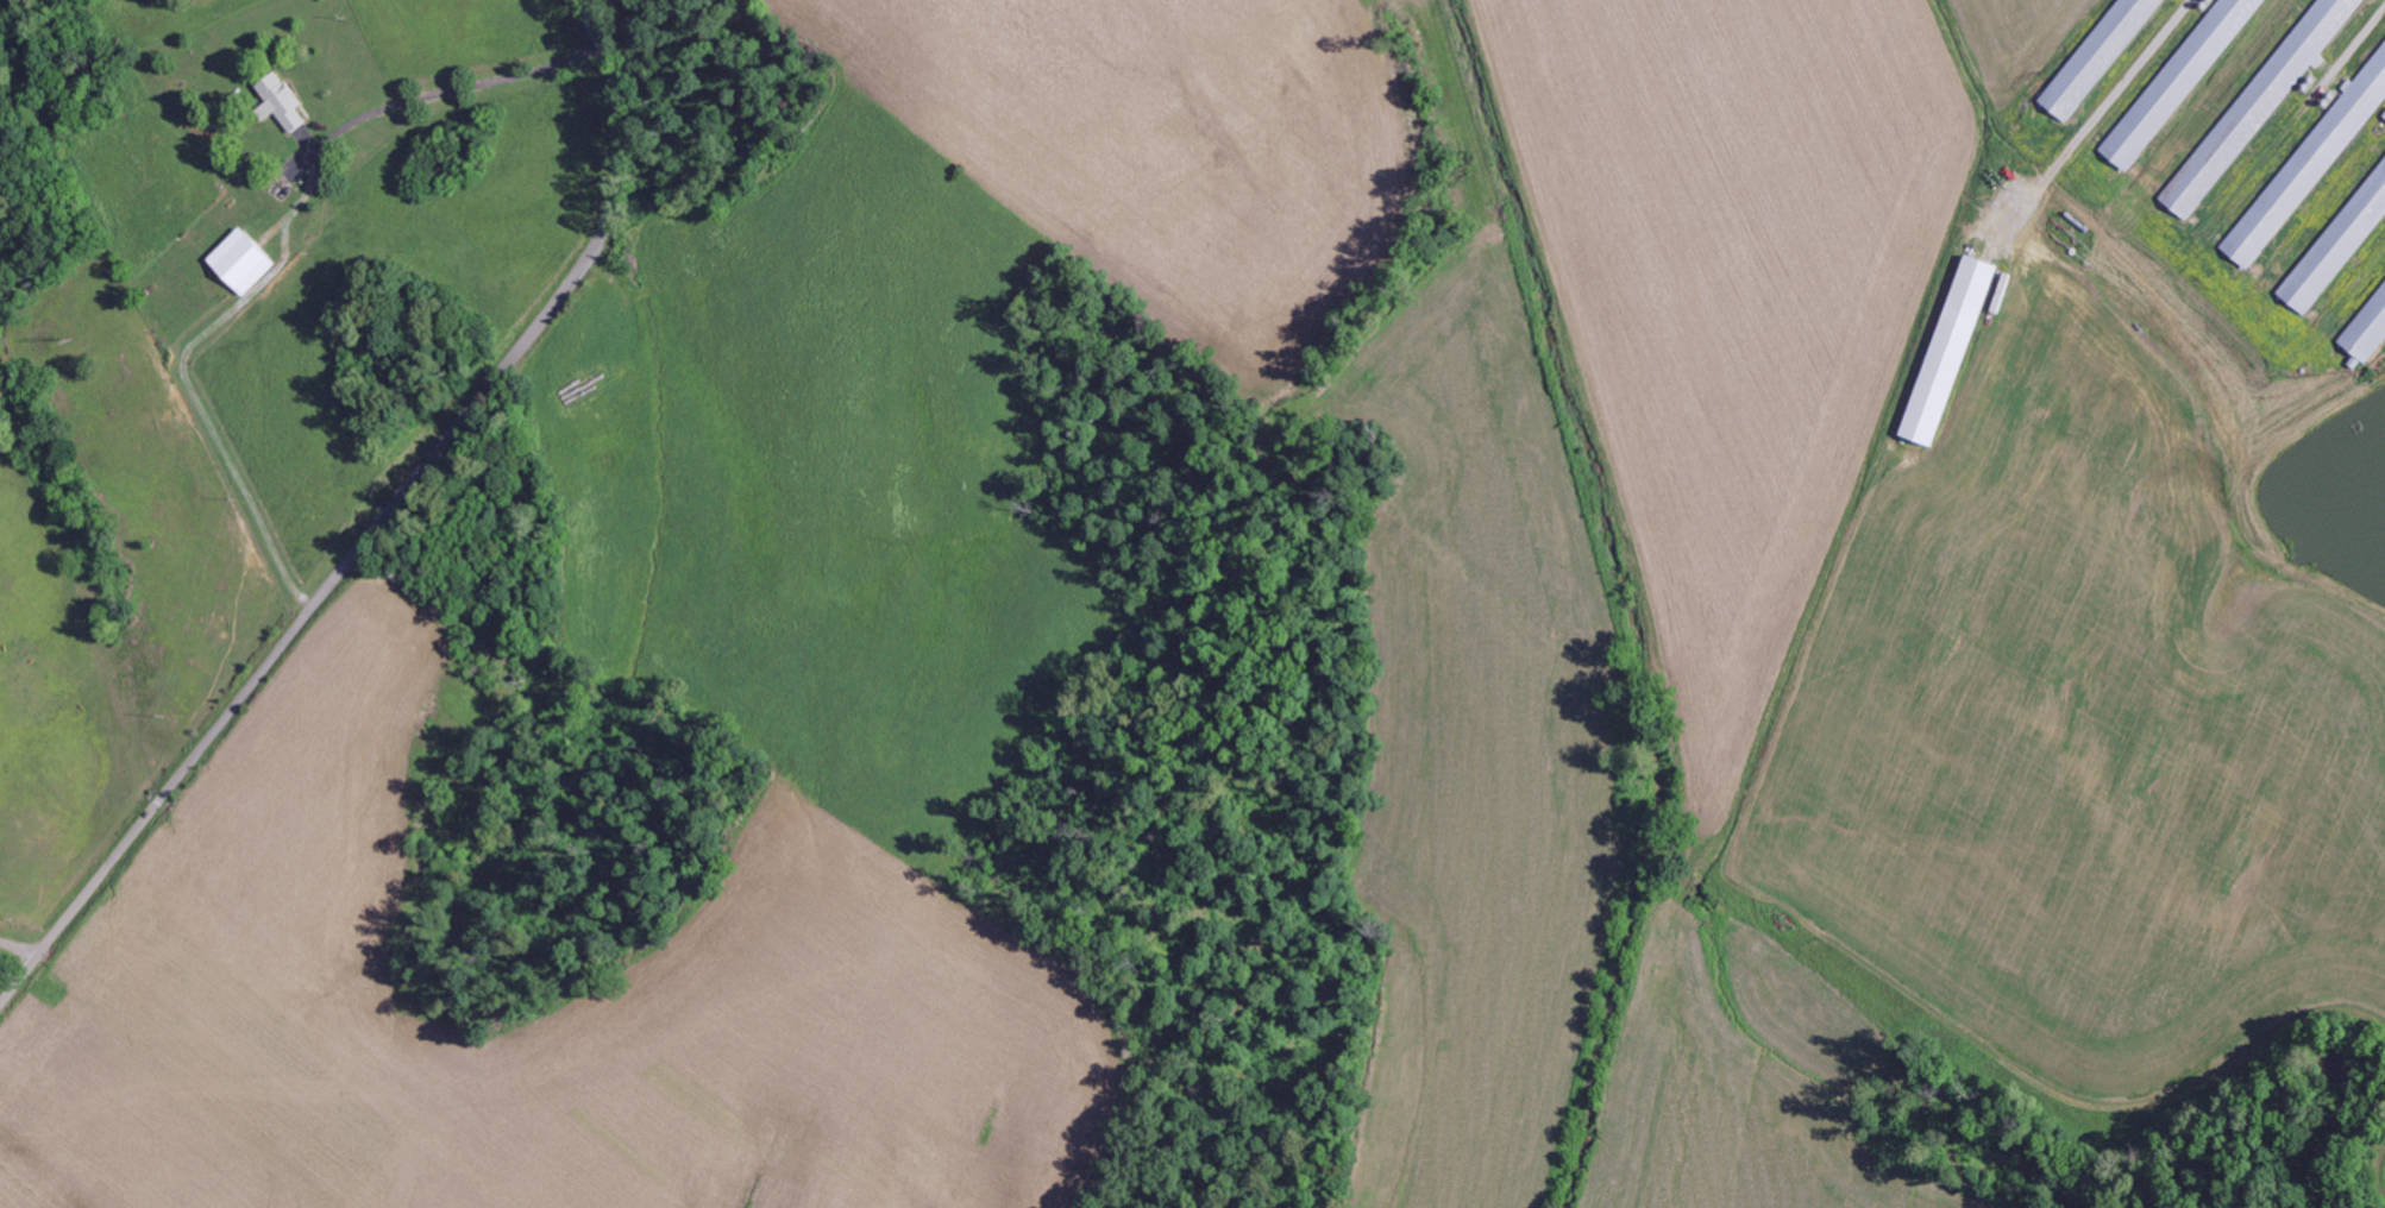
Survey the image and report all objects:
building: (2104, 57)
building: (2183, 81)
building: (287, 102)
building: (2262, 106)
building: (2337, 250)
building: (247, 262)
building: (2371, 334)
building: (1954, 351)
road: (383, 526)

